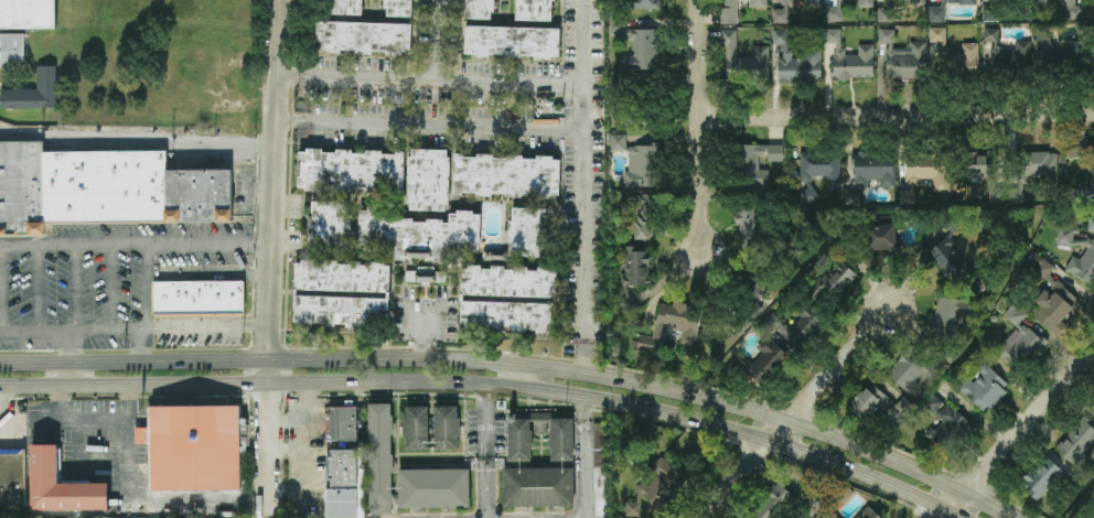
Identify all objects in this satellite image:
building: (918, 2)
building: (1041, 2)
building: (758, 3)
building: (813, 3)
building: (866, 3)
building: (646, 4)
building: (344, 8)
building: (399, 9)
building: (481, 9)
building: (535, 10)
building: (730, 11)
building: (1073, 11)
building: (834, 12)
building: (782, 13)
building: (937, 14)
building: (22, 28)
building: (364, 37)
building: (937, 39)
road: (441, 40)
building: (512, 42)
building: (639, 46)
building: (1059, 50)
building: (1008, 52)
building: (850, 58)
building: (903, 58)
building: (966, 58)
building: (743, 62)
building: (797, 62)
road: (468, 82)
building: (32, 94)
building: (639, 110)
road: (898, 117)
road: (702, 125)
road: (433, 131)
road: (138, 139)
building: (619, 143)
building: (1082, 149)
building: (755, 164)
building: (644, 166)
building: (982, 166)
building: (351, 171)
building: (930, 171)
building: (819, 172)
building: (871, 173)
building: (1091, 174)
building: (507, 176)
building: (429, 180)
building: (103, 190)
road: (588, 213)
building: (641, 216)
building: (332, 223)
building: (748, 223)
building: (1091, 224)
building: (419, 233)
building: (529, 233)
building: (882, 237)
road: (137, 244)
building: (1065, 255)
road: (273, 259)
building: (950, 261)
building: (634, 272)
building: (426, 276)
building: (834, 283)
road: (37, 287)
road: (74, 287)
road: (111, 287)
road: (148, 287)
road: (2, 288)
building: (382, 294)
building: (1052, 296)
building: (553, 299)
building: (199, 300)
building: (1015, 315)
building: (950, 316)
building: (797, 326)
road: (428, 327)
building: (673, 327)
road: (136, 330)
road: (148, 345)
building: (1019, 346)
road: (75, 358)
road: (243, 360)
building: (766, 361)
road: (505, 365)
building: (914, 368)
road: (524, 378)
road: (242, 384)
road: (503, 388)
building: (985, 389)
building: (871, 401)
road: (7, 403)
building: (933, 406)
building: (1092, 408)
road: (794, 410)
road: (776, 419)
building: (342, 424)
building: (416, 428)
building: (447, 428)
building: (947, 428)
road: (746, 434)
road: (1018, 434)
building: (1077, 444)
building: (599, 445)
building: (193, 447)
building: (561, 447)
road: (489, 452)
road: (587, 457)
building: (380, 458)
road: (106, 474)
building: (12, 477)
building: (1043, 478)
building: (63, 486)
building: (344, 486)
building: (538, 487)
building: (435, 488)
building: (657, 489)
building: (600, 493)
road: (189, 503)
building: (773, 503)
building: (816, 503)

